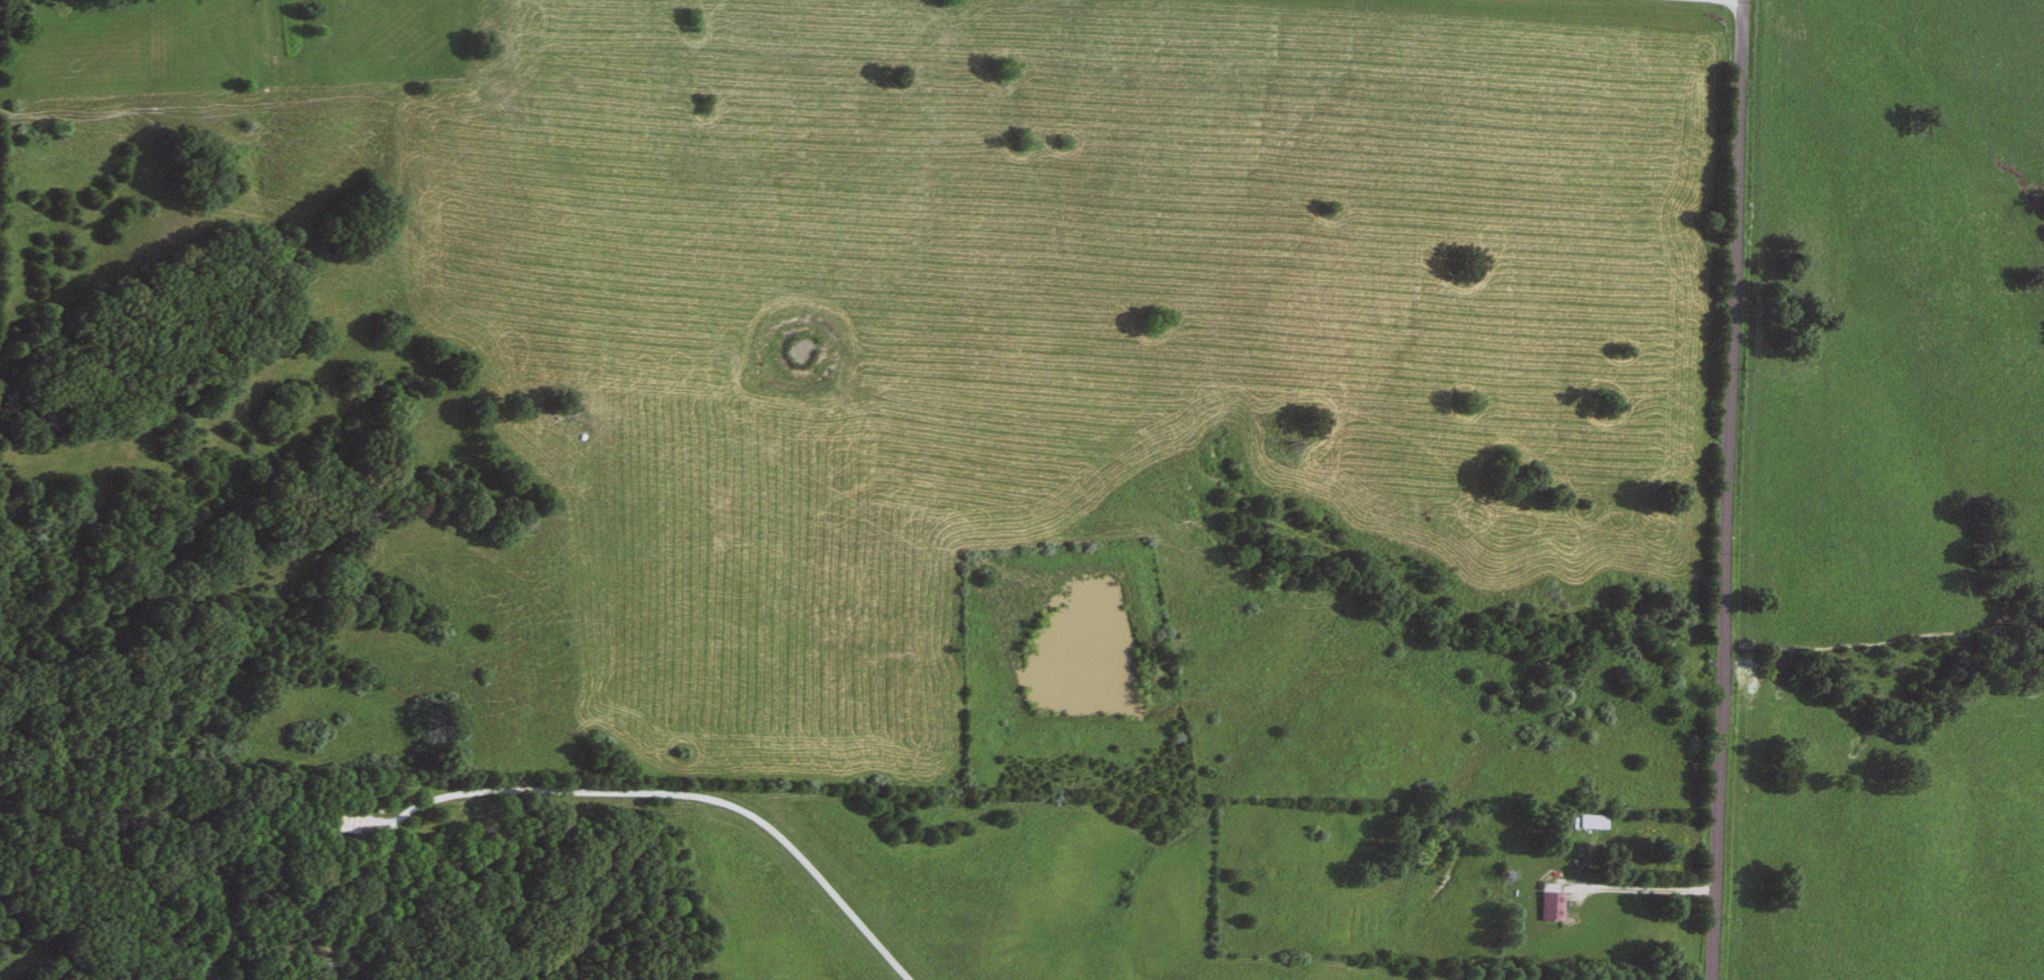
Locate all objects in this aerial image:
road: (1728, 490)
road: (596, 794)
building: (340, 823)
road: (1638, 888)
building: (1546, 905)

